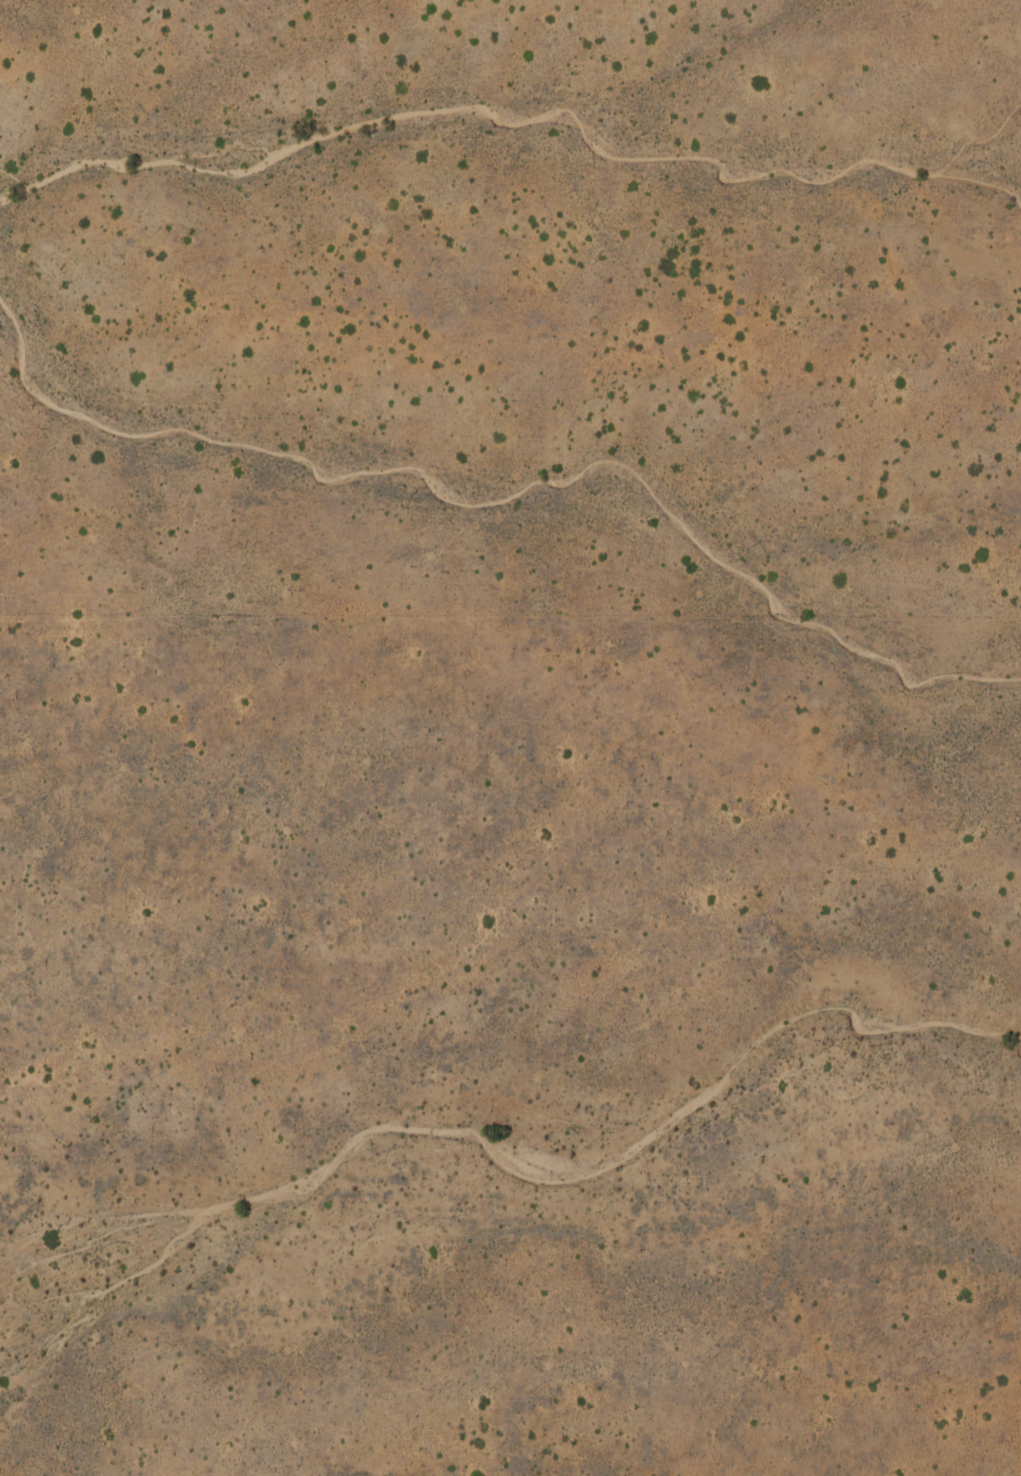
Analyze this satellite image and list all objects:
road: (678, 1424)

